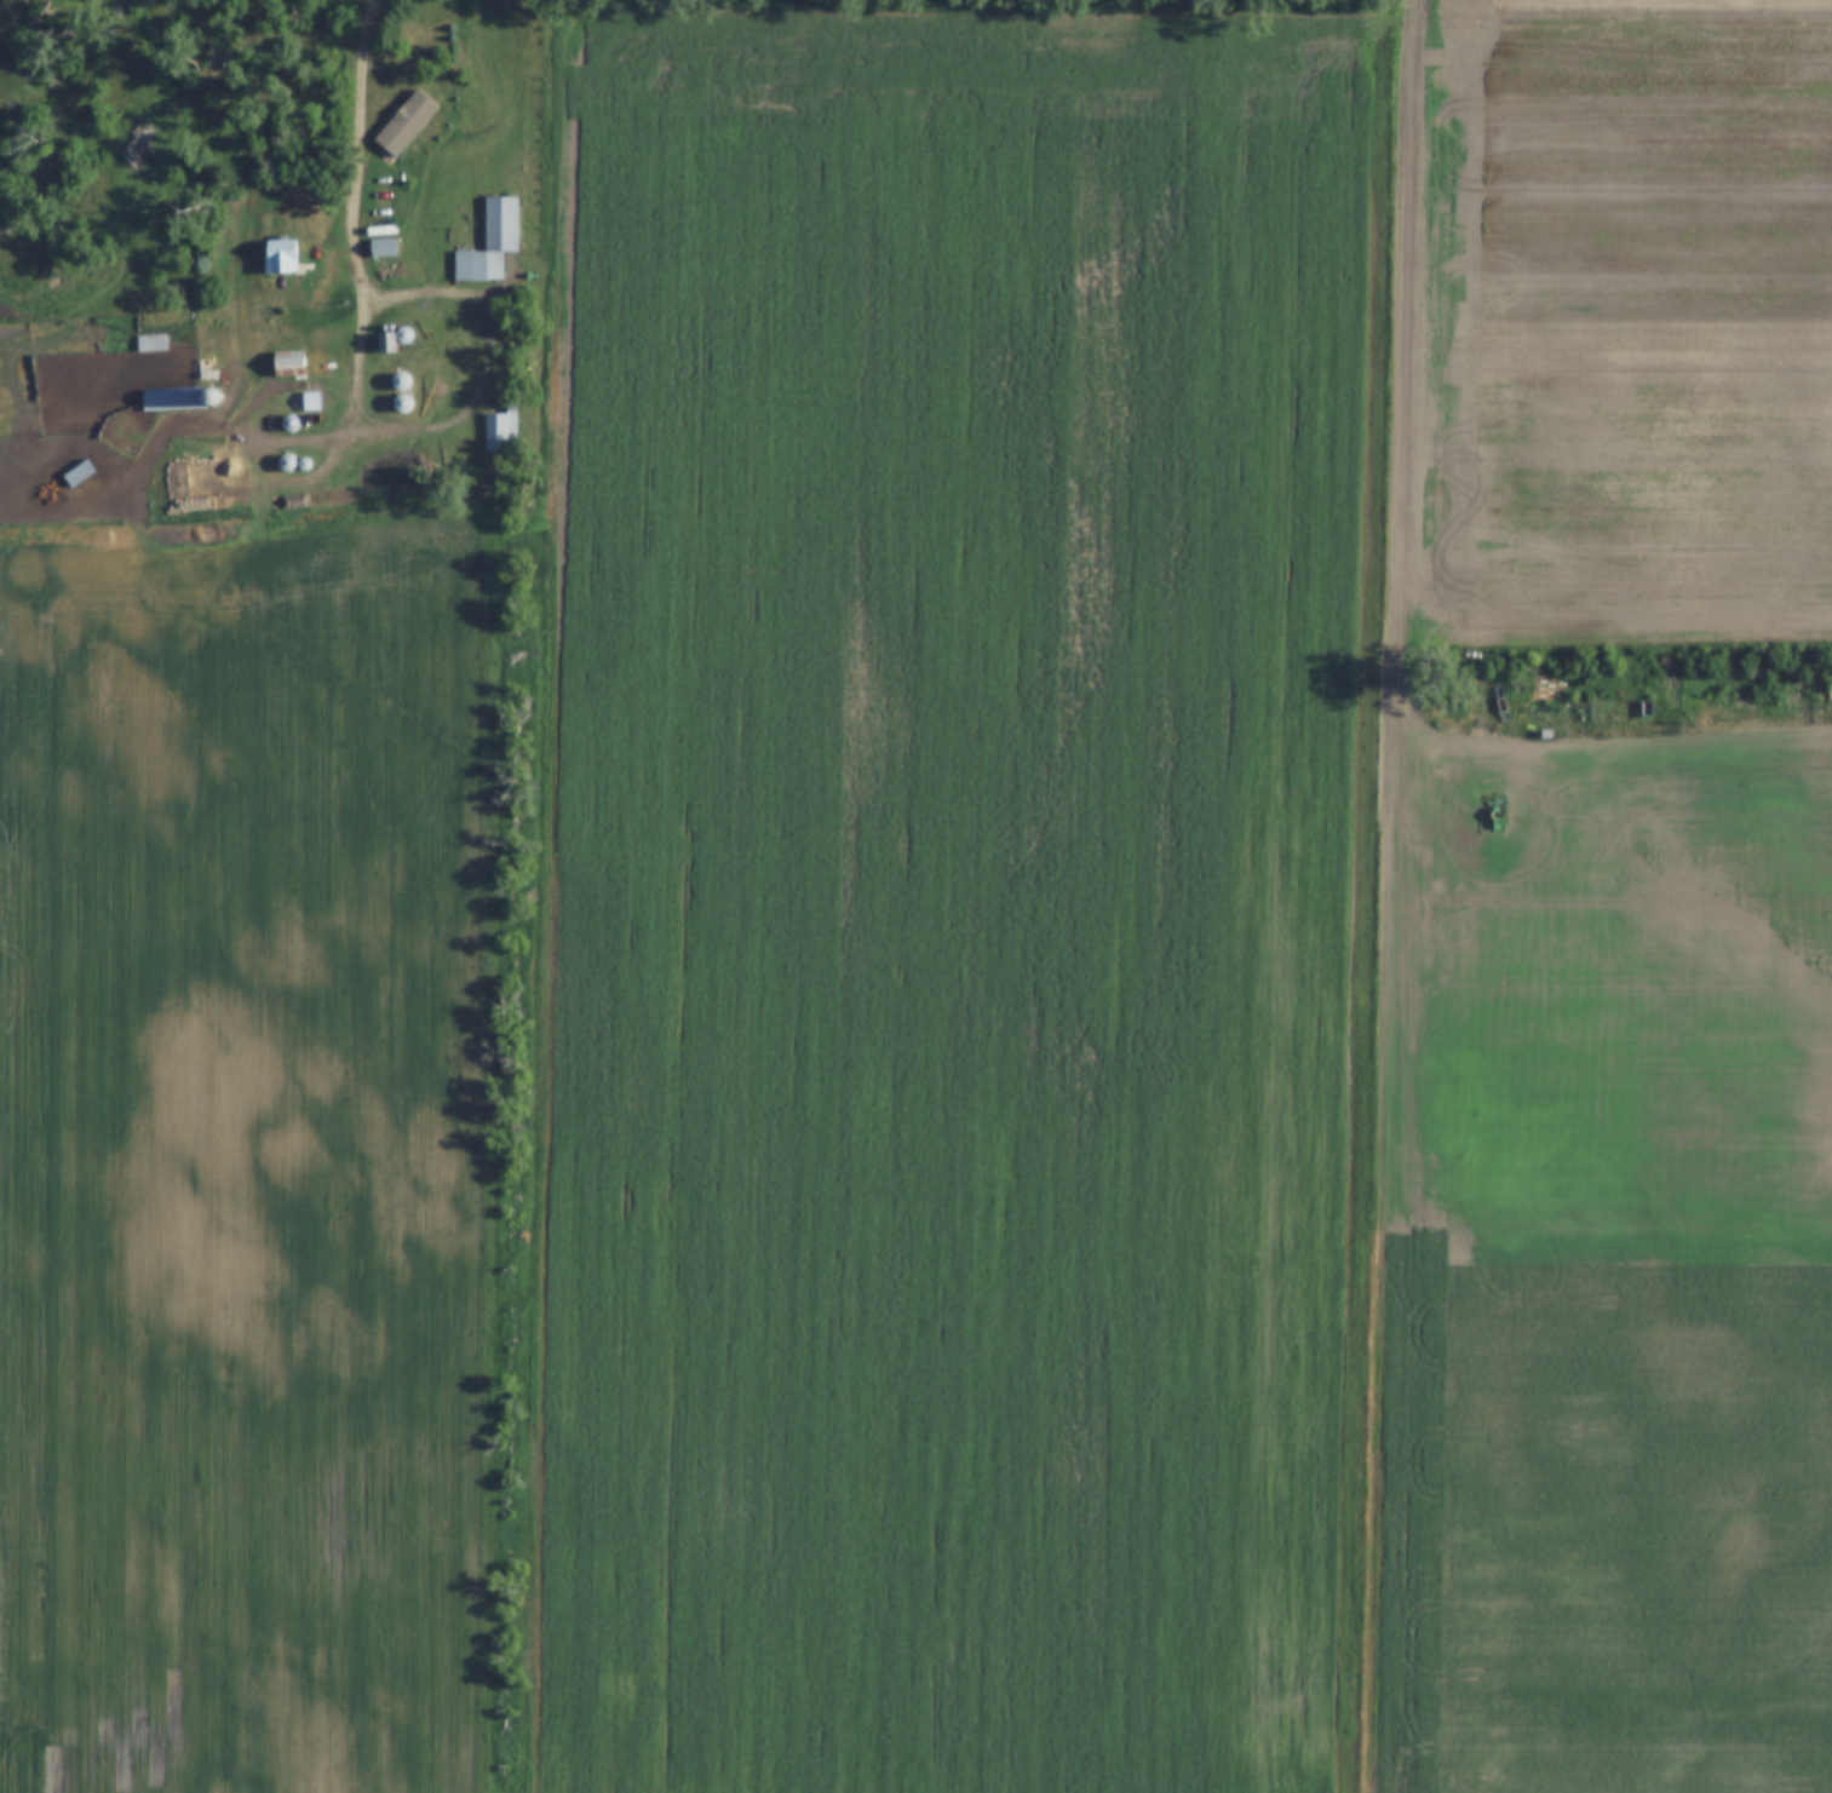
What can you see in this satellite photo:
building: (406, 122)
building: (488, 246)
building: (280, 257)
road: (364, 263)
road: (460, 293)
building: (151, 343)
building: (286, 369)
building: (390, 383)
building: (182, 398)
building: (500, 431)
building: (79, 473)

